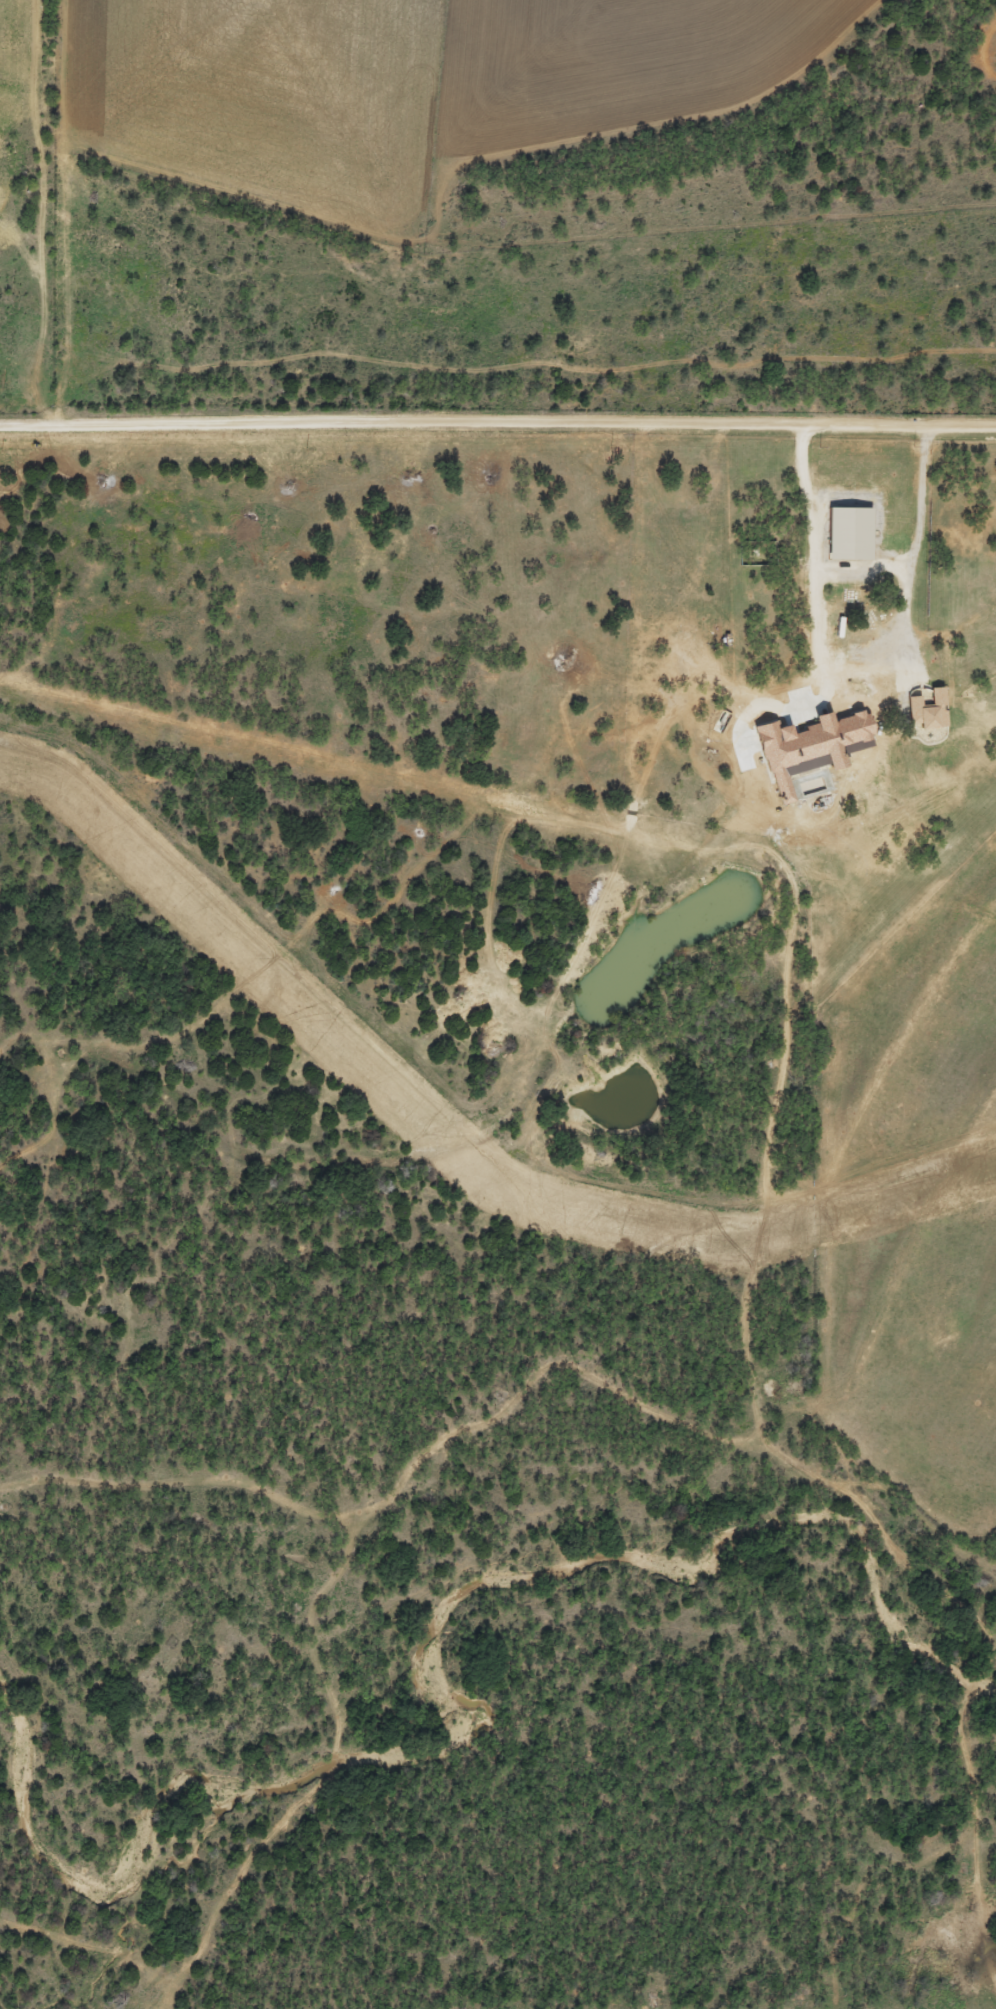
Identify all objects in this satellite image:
road: (497, 423)
building: (845, 541)
building: (853, 660)
road: (855, 678)
building: (924, 718)
building: (804, 754)
building: (804, 781)

